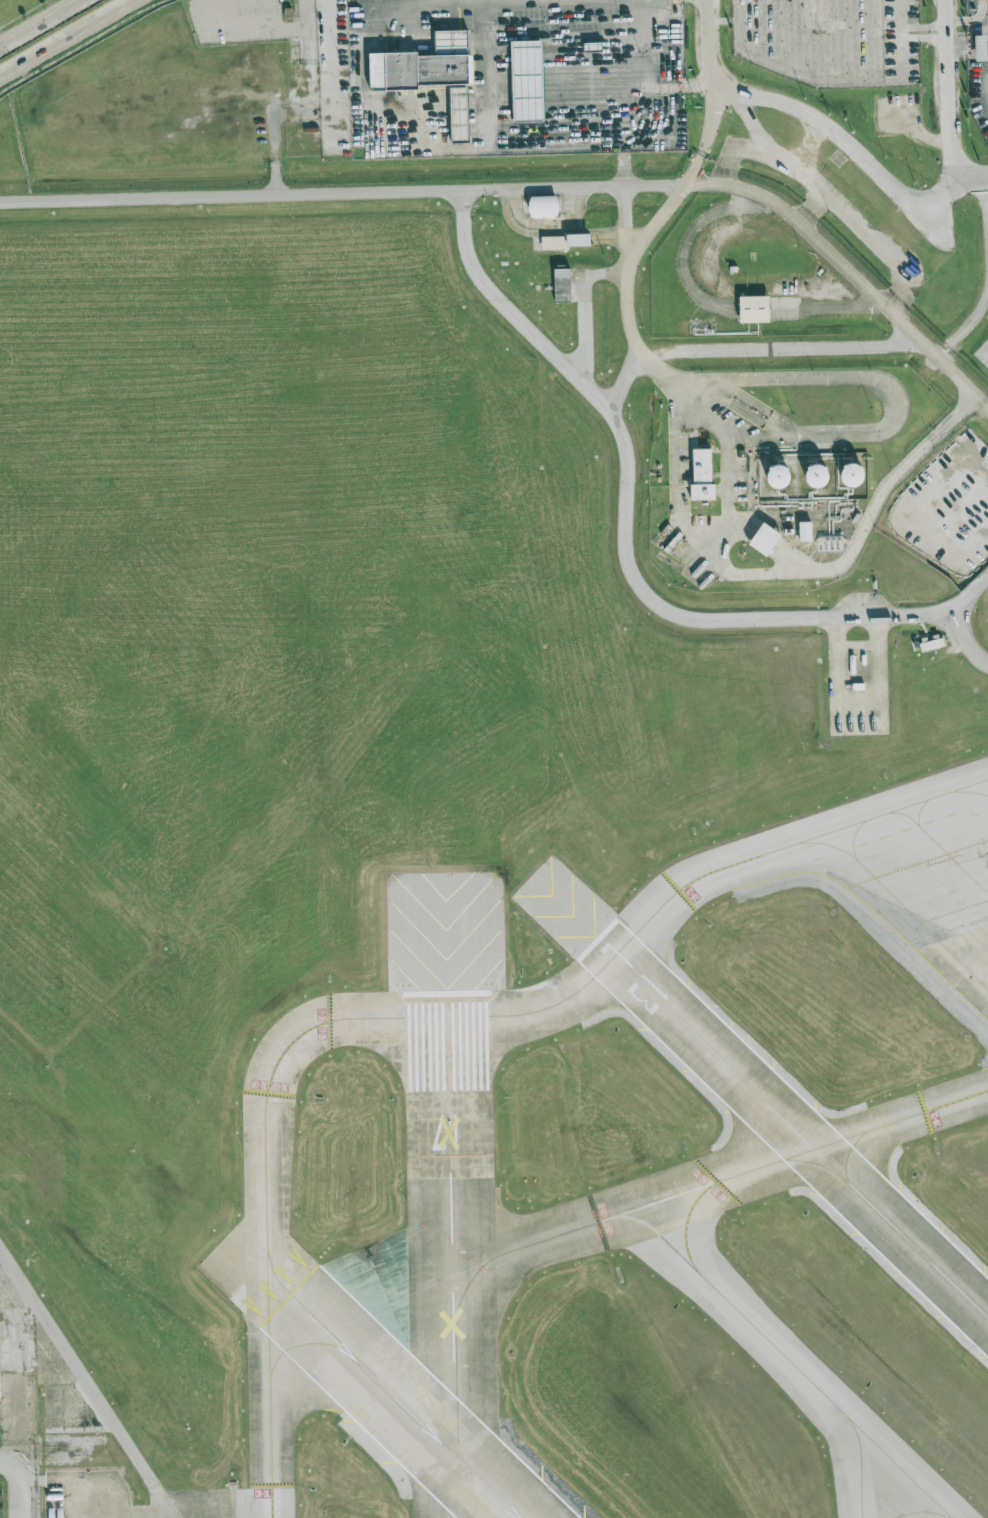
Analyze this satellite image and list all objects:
road: (594, 0)
road: (523, 1)
road: (556, 1)
road: (551, 2)
road: (428, 4)
parking lot: (238, 20)
road: (972, 21)
road: (39, 22)
road: (923, 26)
road: (376, 28)
road: (308, 30)
road: (235, 35)
road: (66, 37)
road: (585, 37)
road: (923, 37)
road: (900, 38)
parking lot: (831, 39)
road: (961, 39)
road: (981, 39)
road: (987, 39)
building: (980, 48)
road: (987, 49)
road: (961, 50)
road: (980, 50)
parking lot: (975, 63)
road: (377, 70)
road: (331, 71)
road: (684, 72)
building: (432, 73)
road: (485, 75)
parking lot: (501, 76)
building: (527, 81)
road: (702, 83)
road: (949, 85)
road: (987, 87)
road: (987, 105)
road: (987, 105)
road: (289, 109)
parking lot: (901, 116)
road: (716, 118)
road: (814, 118)
road: (378, 120)
road: (754, 122)
road: (933, 137)
road: (808, 142)
road: (589, 148)
road: (434, 151)
road: (972, 175)
road: (275, 177)
road: (721, 177)
road: (986, 184)
road: (528, 187)
road: (834, 197)
road: (821, 204)
building: (550, 209)
road: (670, 209)
road: (806, 218)
parking lot: (935, 222)
road: (545, 223)
building: (569, 245)
road: (688, 248)
building: (569, 288)
road: (587, 305)
road: (898, 309)
building: (759, 311)
road: (835, 312)
road: (972, 320)
road: (945, 353)
parking lot: (982, 353)
road: (681, 356)
road: (626, 379)
road: (987, 405)
road: (885, 430)
building: (851, 474)
building: (816, 475)
building: (778, 476)
building: (708, 481)
road: (740, 482)
parking lot: (943, 505)
road: (959, 508)
road: (907, 513)
road: (723, 531)
building: (772, 543)
road: (624, 547)
road: (805, 565)
road: (797, 575)
road: (967, 638)
airport: (497, 761)
airport taxiway: (983, 785)
airport taxiway: (944, 849)
airport apron: (931, 857)
airport taxiway: (910, 908)
road: (945, 921)
airport taxiway: (645, 922)
airport runway: (791, 1128)
airport taxiway: (646, 1204)
airport taxiway: (686, 1224)
airport runway: (450, 1254)
airport taxiway: (266, 1267)
airport taxiway: (274, 1272)
airport taxiway: (330, 1344)
airport taxiway: (786, 1357)
road: (76, 1364)
airport runway: (401, 1407)
road: (6, 1463)
airport taxiway: (859, 1464)
road: (19, 1492)
airport apron: (194, 1497)
airport taxiway: (921, 1511)

